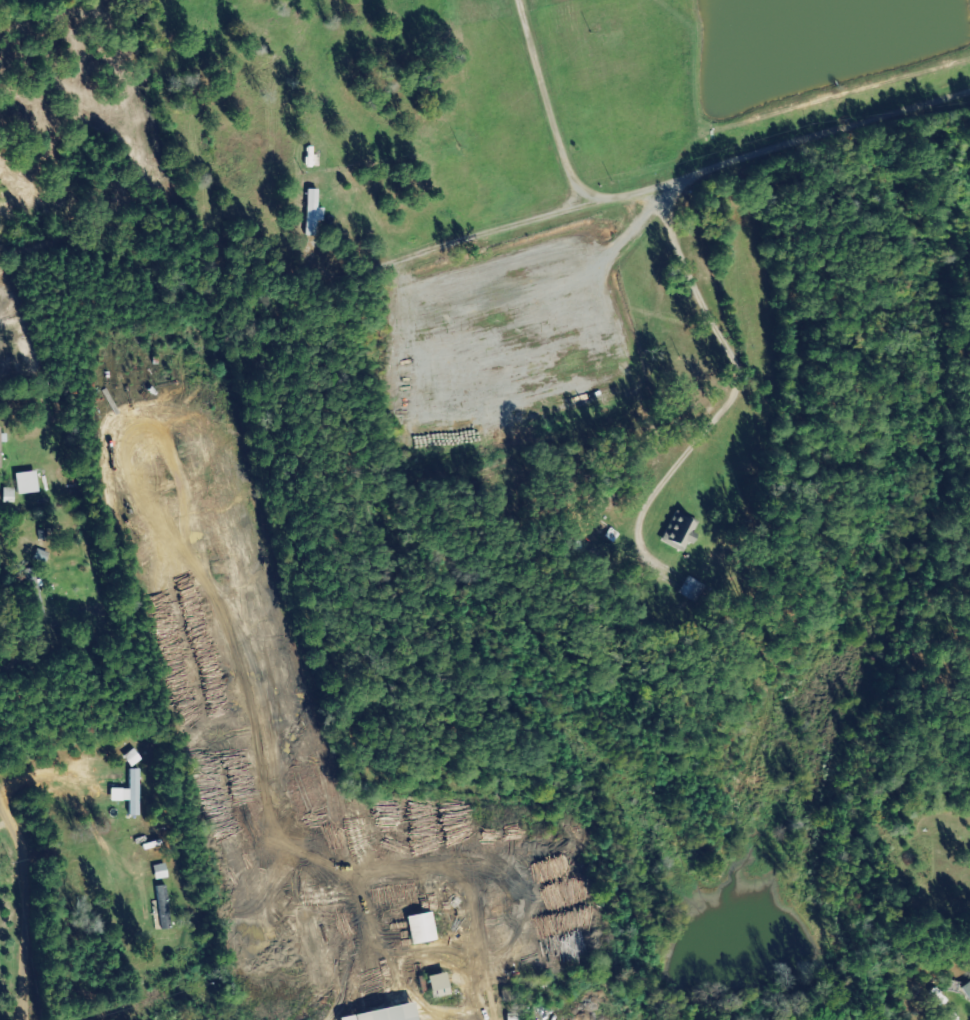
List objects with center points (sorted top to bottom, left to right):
building: (315, 213)
building: (1, 449)
building: (28, 483)
building: (11, 495)
building: (681, 531)
building: (692, 589)
building: (35, 590)
building: (134, 758)
building: (131, 793)
building: (162, 872)
road: (24, 907)
building: (165, 907)
building: (423, 929)
road: (459, 974)
building: (439, 986)
building: (967, 990)
building: (389, 1014)

